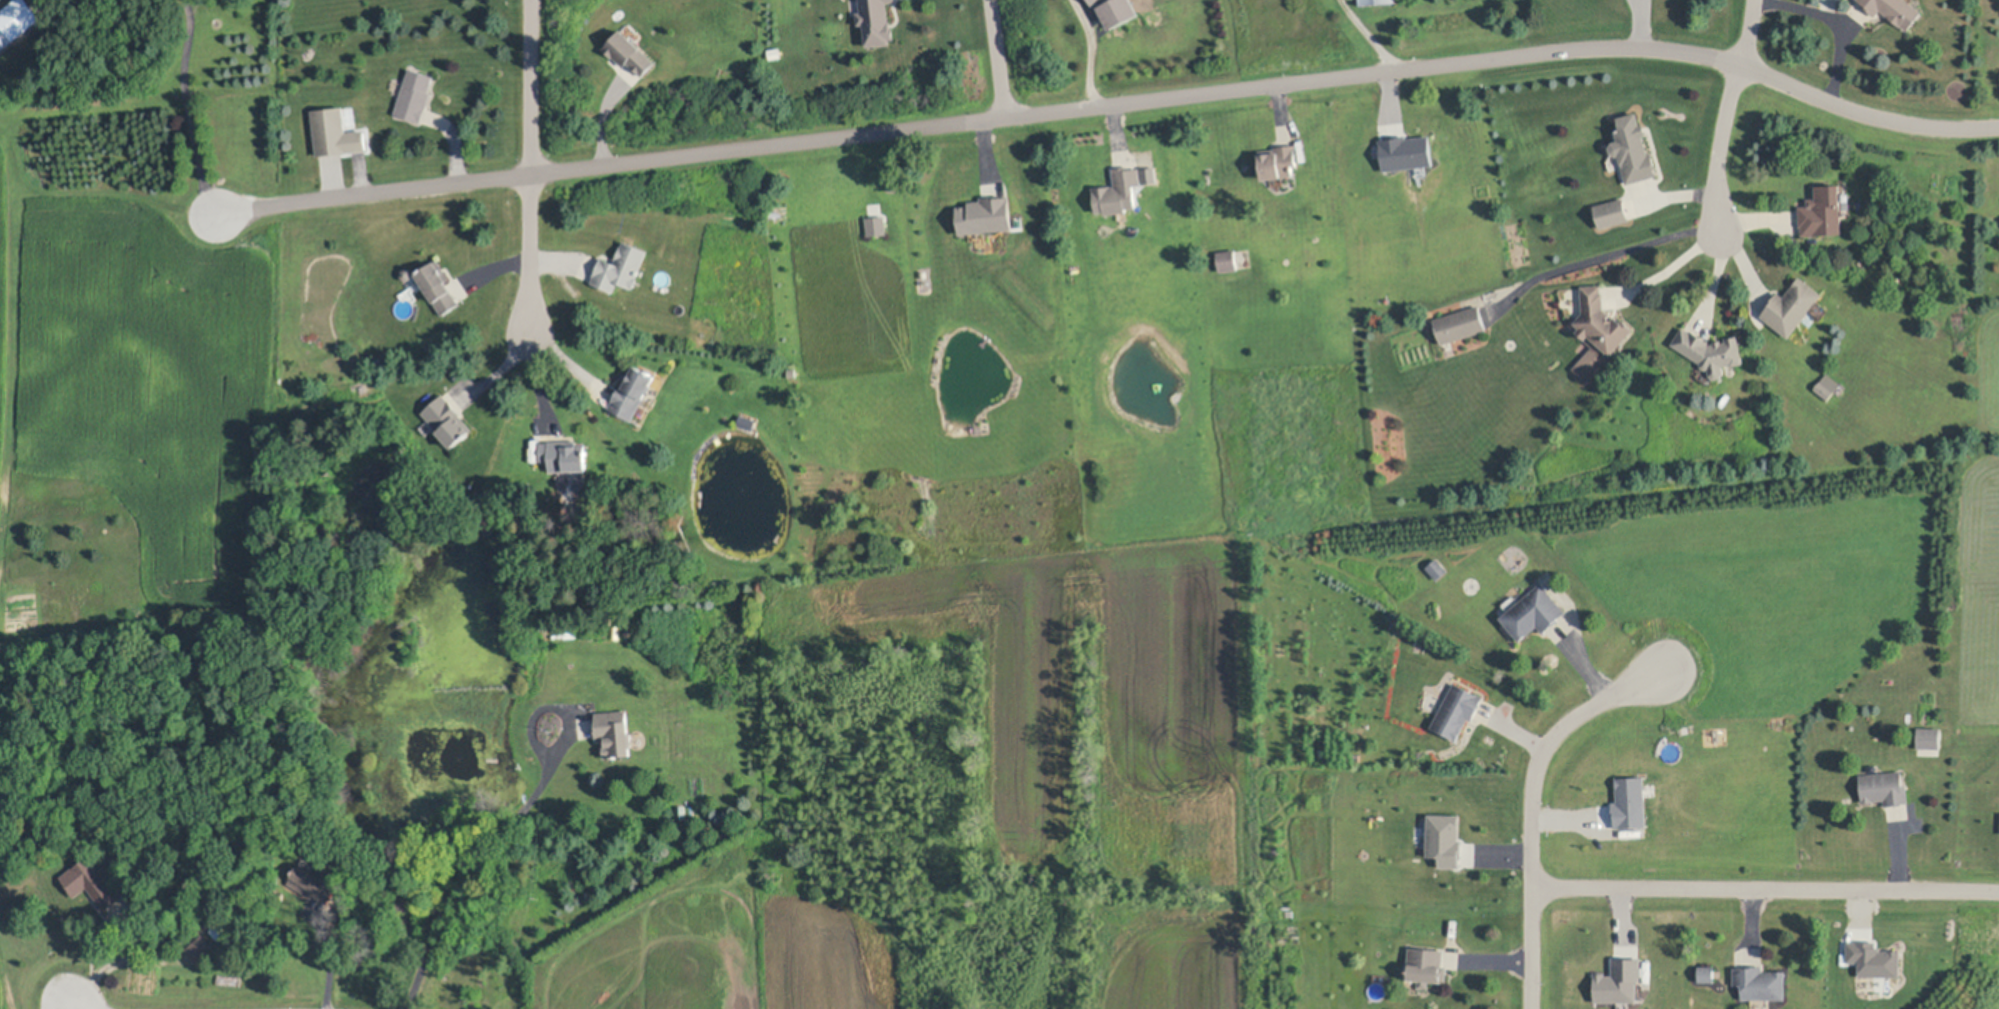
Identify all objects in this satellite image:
building: (1376, 1)
building: (1119, 9)
building: (1896, 10)
building: (876, 21)
road: (1840, 29)
road: (1747, 33)
building: (5, 34)
road: (1371, 35)
building: (629, 50)
road: (1094, 51)
building: (774, 52)
road: (999, 59)
road: (531, 88)
building: (415, 94)
road: (1111, 105)
road: (188, 108)
building: (336, 131)
road: (457, 145)
building: (1634, 147)
road: (1719, 148)
building: (1410, 154)
building: (1279, 161)
building: (1150, 177)
building: (1119, 190)
building: (1822, 208)
building: (1613, 211)
building: (985, 214)
building: (877, 227)
road: (532, 251)
road: (1598, 255)
building: (1227, 260)
building: (619, 266)
building: (407, 271)
road: (1672, 271)
building: (438, 284)
building: (1793, 305)
building: (1461, 322)
building: (1598, 331)
building: (1710, 350)
road: (539, 379)
building: (1824, 390)
building: (632, 391)
building: (448, 421)
building: (564, 455)
building: (1437, 568)
building: (1534, 612)
building: (571, 632)
road: (546, 703)
building: (1456, 710)
building: (614, 732)
building: (1929, 744)
building: (1884, 787)
building: (1632, 803)
road: (1533, 807)
building: (1447, 840)
road: (459, 870)
building: (93, 880)
building: (314, 882)
road: (1767, 890)
building: (279, 895)
building: (208, 921)
building: (221, 929)
building: (202, 948)
building: (1876, 960)
building: (1426, 964)
building: (1707, 971)
building: (1761, 980)
building: (1621, 983)
road: (72, 1008)

